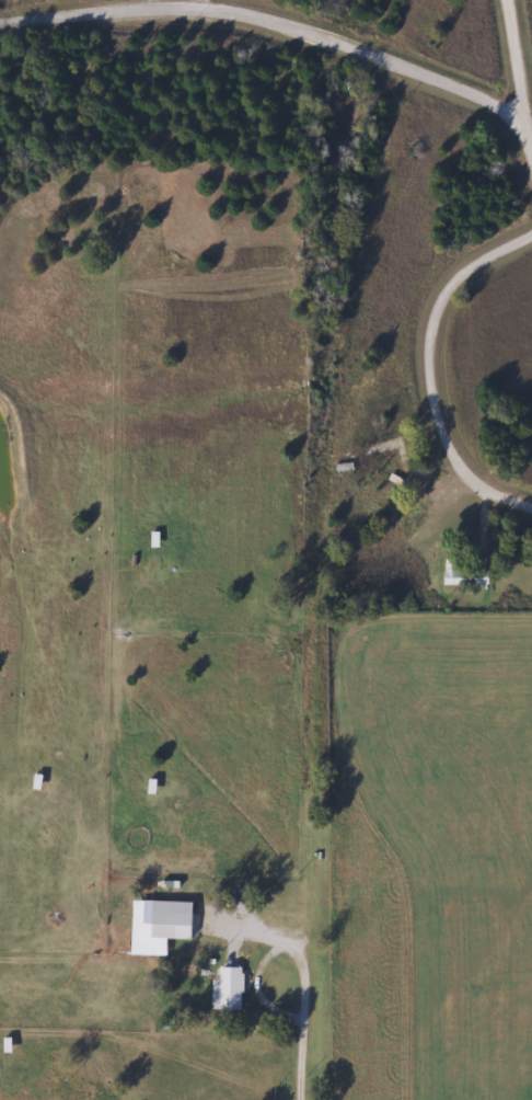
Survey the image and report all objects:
road: (204, 3)
road: (286, 22)
road: (519, 56)
road: (432, 370)
road: (478, 528)
building: (453, 571)
building: (175, 919)
road: (307, 974)
building: (230, 989)

